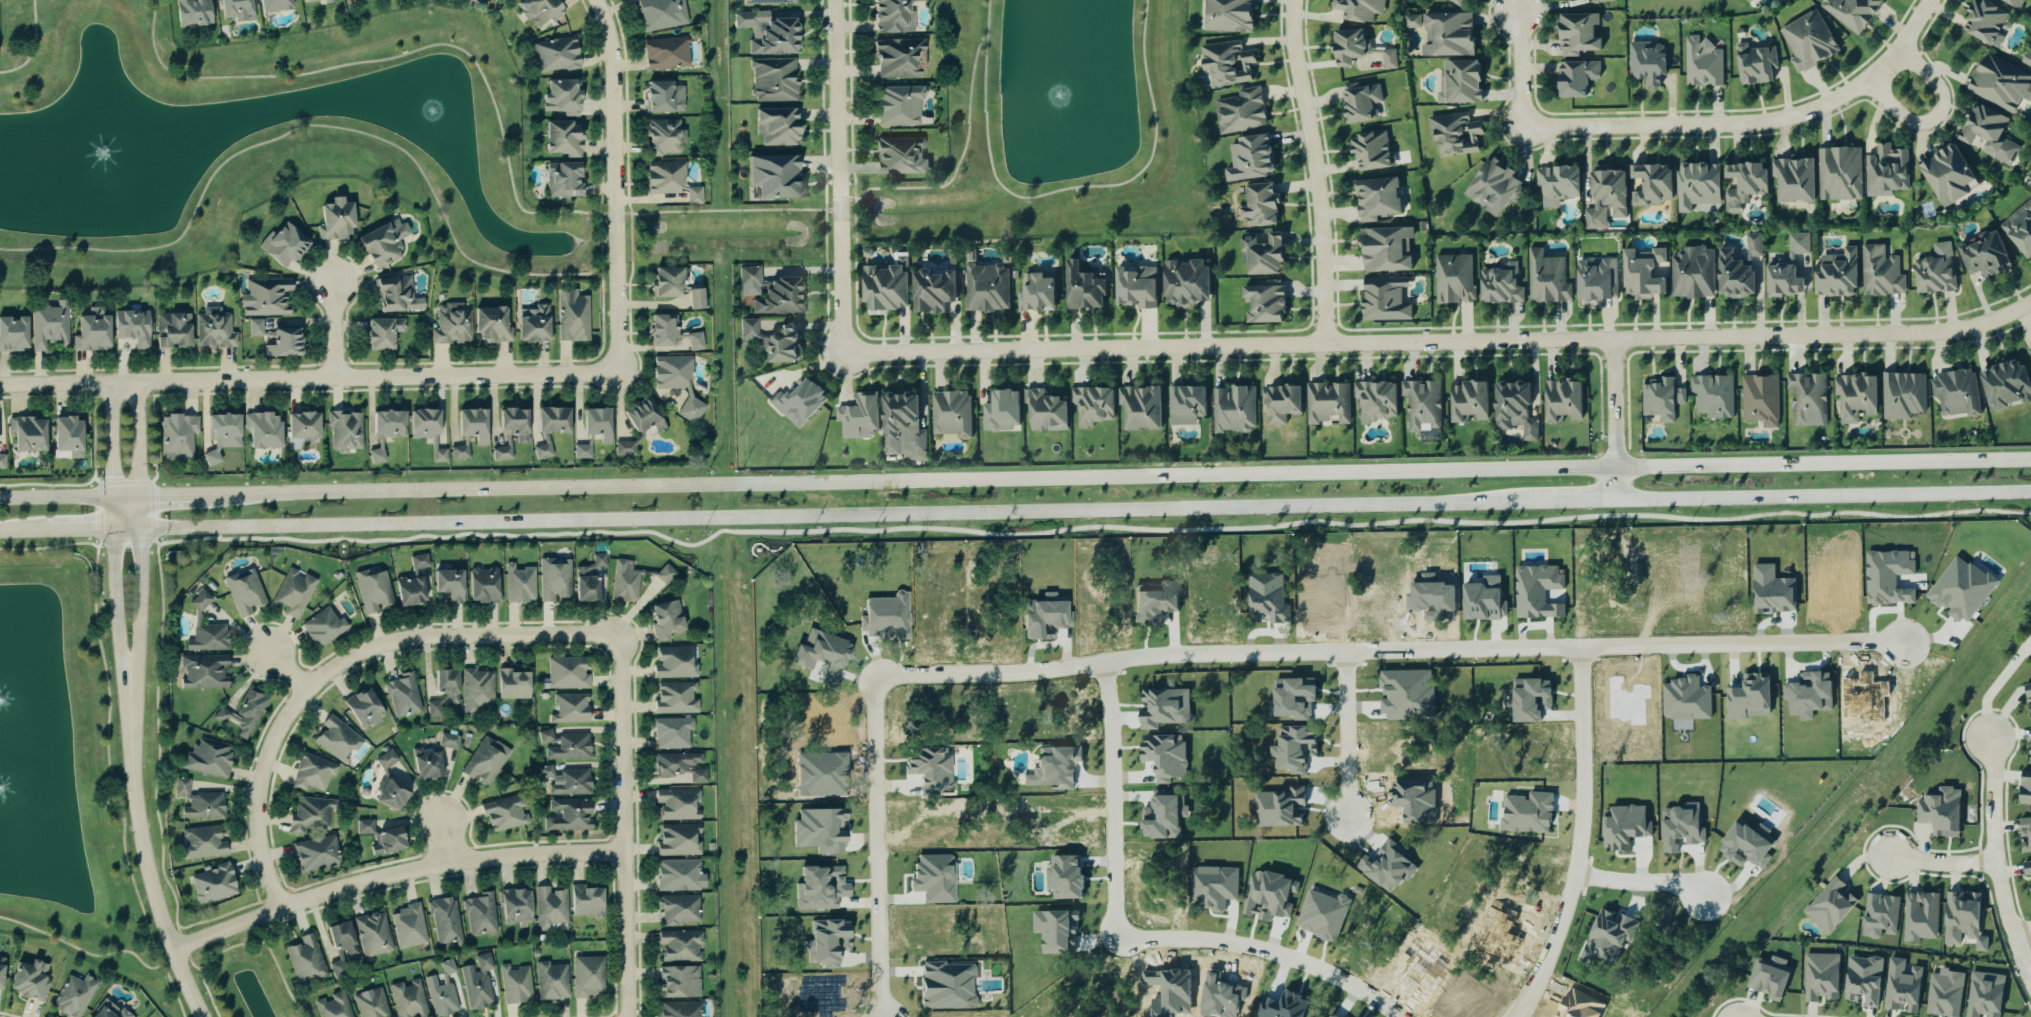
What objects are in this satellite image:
building: (1744, 0)
building: (1600, 1)
building: (312, 2)
building: (768, 2)
building: (1456, 2)
building: (2012, 3)
building: (274, 5)
building: (233, 8)
building: (1357, 9)
building: (538, 12)
building: (1849, 12)
building: (191, 13)
building: (660, 14)
building: (888, 16)
building: (1226, 16)
building: (1413, 21)
building: (1982, 22)
building: (1446, 35)
building: (1577, 35)
building: (773, 38)
building: (1806, 42)
road: (33, 46)
building: (1348, 47)
building: (663, 52)
building: (554, 56)
building: (896, 59)
building: (2026, 59)
building: (1387, 60)
building: (1225, 64)
building: (1646, 64)
building: (1700, 65)
building: (1753, 65)
road: (1523, 70)
building: (1574, 79)
building: (771, 80)
building: (1460, 83)
building: (1999, 85)
fountain: (1065, 92)
building: (559, 97)
building: (659, 98)
road: (492, 100)
building: (1362, 102)
building: (896, 107)
building: (1239, 111)
fountain: (436, 114)
road: (1937, 118)
road: (307, 125)
road: (1755, 125)
building: (776, 126)
building: (1986, 135)
building: (1452, 137)
building: (662, 138)
building: (560, 139)
building: (1370, 151)
fountain: (105, 155)
building: (898, 156)
building: (1248, 159)
road: (956, 166)
road: (1317, 172)
building: (1884, 172)
building: (1838, 175)
building: (772, 177)
road: (841, 177)
building: (1946, 177)
building: (667, 180)
building: (562, 181)
building: (1792, 181)
building: (1742, 183)
building: (1555, 184)
building: (1649, 186)
building: (1695, 186)
road: (616, 187)
building: (1492, 188)
road: (1063, 189)
road: (600, 190)
building: (1604, 199)
building: (1376, 200)
building: (1258, 206)
building: (334, 220)
building: (2019, 230)
building: (382, 243)
building: (1798, 243)
building: (1752, 245)
building: (282, 246)
building: (1384, 250)
building: (1261, 255)
building: (1982, 256)
building: (1690, 273)
building: (1641, 274)
building: (1879, 274)
building: (1836, 275)
building: (1932, 275)
building: (1732, 277)
building: (1545, 279)
building: (1596, 279)
building: (1452, 280)
building: (1782, 282)
building: (663, 283)
building: (1184, 284)
building: (1501, 284)
building: (884, 288)
building: (1133, 288)
building: (986, 289)
building: (1081, 289)
road: (601, 290)
building: (930, 292)
building: (771, 293)
building: (1034, 293)
building: (392, 295)
building: (264, 296)
building: (693, 299)
building: (1384, 300)
building: (1263, 304)
building: (575, 319)
building: (450, 325)
building: (47, 326)
building: (489, 326)
building: (533, 326)
building: (130, 329)
building: (213, 329)
building: (90, 331)
building: (661, 331)
building: (171, 332)
road: (335, 333)
building: (380, 334)
building: (12, 335)
building: (275, 339)
building: (771, 341)
building: (694, 342)
road: (1441, 344)
building: (2029, 351)
road: (566, 359)
road: (310, 381)
building: (675, 383)
building: (2004, 386)
building: (1954, 394)
building: (1712, 395)
building: (1903, 395)
building: (1856, 397)
building: (1660, 398)
building: (1806, 398)
building: (1758, 399)
building: (798, 401)
building: (1376, 401)
building: (1185, 402)
building: (1280, 403)
building: (1467, 403)
building: (1561, 403)
building: (1326, 404)
building: (1509, 404)
building: (1093, 405)
building: (1422, 405)
building: (1138, 409)
building: (1232, 410)
building: (1043, 412)
building: (999, 413)
building: (949, 415)
building: (644, 416)
building: (858, 417)
building: (550, 421)
building: (900, 421)
road: (1618, 421)
building: (422, 423)
building: (512, 423)
building: (386, 425)
building: (594, 425)
building: (300, 426)
building: (470, 426)
building: (262, 431)
building: (222, 432)
building: (344, 432)
building: (1528, 432)
building: (26, 435)
building: (180, 436)
building: (66, 438)
road: (112, 440)
road: (140, 440)
building: (460, 450)
building: (438, 455)
building: (1, 462)
road: (1470, 480)
road: (56, 485)
road: (558, 487)
road: (174, 495)
road: (70, 497)
road: (1824, 498)
road: (1565, 503)
road: (1209, 511)
road: (96, 512)
road: (112, 513)
road: (142, 513)
road: (524, 523)
road: (128, 530)
road: (28, 531)
road: (84, 531)
road: (104, 544)
road: (48, 547)
building: (419, 561)
building: (665, 574)
building: (1887, 577)
building: (554, 579)
building: (588, 579)
building: (624, 581)
building: (447, 584)
building: (519, 584)
building: (482, 586)
building: (374, 589)
building: (408, 590)
building: (245, 591)
building: (293, 593)
building: (1775, 594)
building: (200, 600)
building: (1482, 600)
building: (1153, 601)
road: (118, 614)
building: (1044, 615)
building: (885, 617)
building: (665, 620)
building: (324, 627)
road: (140, 636)
building: (206, 638)
road: (1387, 651)
building: (820, 653)
road: (347, 662)
building: (674, 663)
road: (290, 670)
building: (203, 671)
building: (566, 674)
building: (511, 684)
road: (1991, 686)
building: (2027, 690)
building: (478, 691)
building: (442, 692)
building: (1807, 694)
building: (403, 695)
building: (675, 698)
building: (1292, 698)
building: (1748, 698)
building: (570, 708)
building: (363, 709)
building: (241, 713)
road: (131, 720)
building: (671, 733)
road: (1345, 735)
building: (547, 737)
building: (337, 740)
building: (448, 741)
building: (569, 747)
building: (2030, 754)
building: (208, 757)
building: (386, 759)
building: (485, 761)
building: (426, 764)
building: (1055, 766)
building: (679, 769)
building: (312, 772)
building: (563, 782)
building: (390, 793)
road: (1111, 798)
building: (198, 801)
building: (678, 804)
building: (1279, 809)
building: (1940, 812)
building: (504, 813)
building: (1528, 813)
building: (311, 815)
building: (568, 815)
building: (1162, 816)
road: (627, 826)
building: (364, 827)
building: (1625, 827)
building: (2024, 834)
road: (1579, 838)
building: (679, 839)
building: (386, 841)
building: (202, 842)
road: (446, 844)
road: (877, 847)
building: (1744, 847)
building: (315, 853)
road: (1941, 864)
road: (1995, 864)
building: (2027, 874)
road: (395, 875)
building: (679, 875)
road: (152, 883)
road: (1641, 883)
building: (212, 884)
building: (819, 886)
building: (585, 901)
building: (1830, 905)
building: (514, 907)
building: (550, 909)
building: (679, 909)
building: (480, 914)
building: (1879, 916)
building: (1920, 916)
road: (301, 919)
building: (444, 920)
building: (1962, 920)
road: (276, 922)
building: (407, 926)
road: (2021, 932)
building: (373, 934)
building: (341, 938)
building: (826, 941)
road: (246, 942)
building: (679, 945)
road: (1267, 951)
road: (89, 952)
road: (2025, 954)
road: (190, 959)
building: (305, 959)
building: (446, 968)
building: (336, 969)
building: (0, 970)
building: (1820, 976)
building: (587, 977)
building: (1768, 977)
building: (1862, 979)
building: (29, 980)
building: (551, 981)
building: (477, 982)
building: (677, 982)
building: (515, 984)
building: (946, 986)
building: (1901, 987)
building: (1944, 993)
building: (1984, 995)
building: (74, 996)
building: (439, 997)
building: (407, 999)
building: (370, 1003)
building: (333, 1005)
building: (1283, 1006)
building: (680, 1009)
building: (108, 1010)
building: (1331, 1015)

